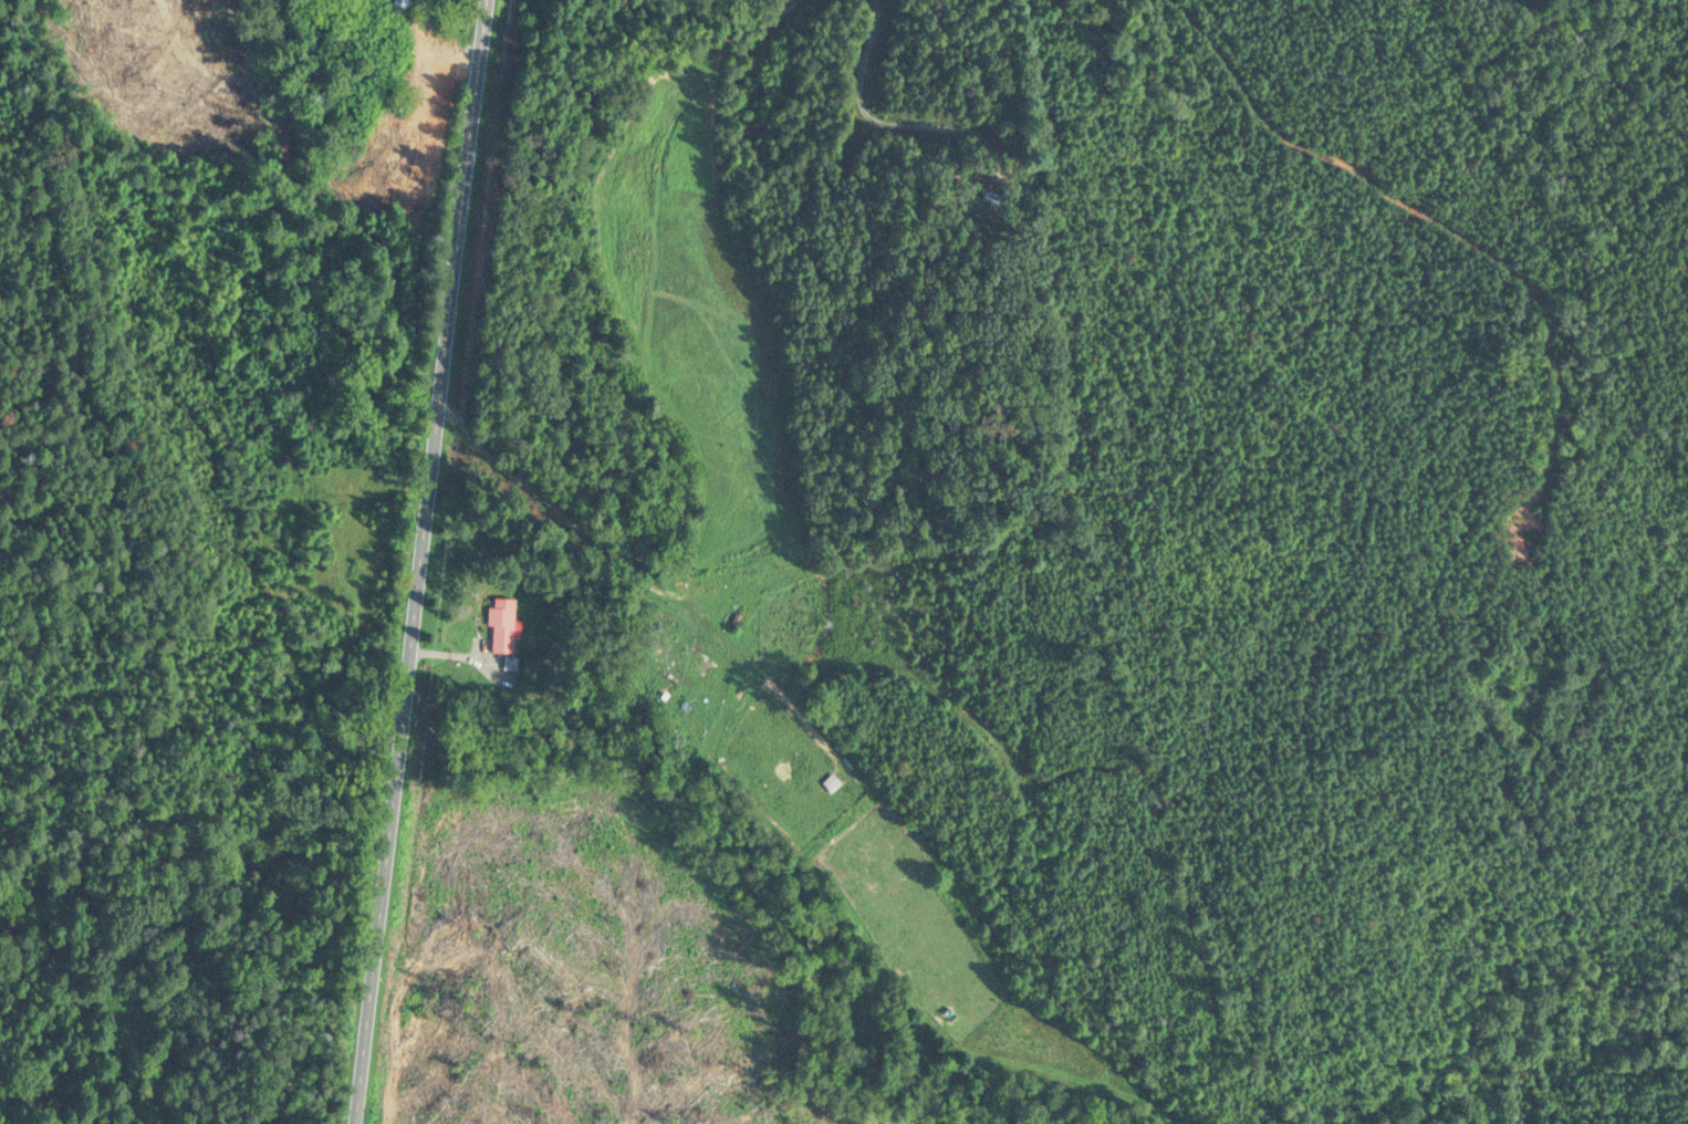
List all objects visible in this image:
building: (397, 2)
road: (452, 29)
road: (413, 33)
building: (395, 64)
road: (416, 67)
road: (898, 123)
building: (368, 124)
road: (416, 561)
building: (739, 606)
building: (499, 624)

